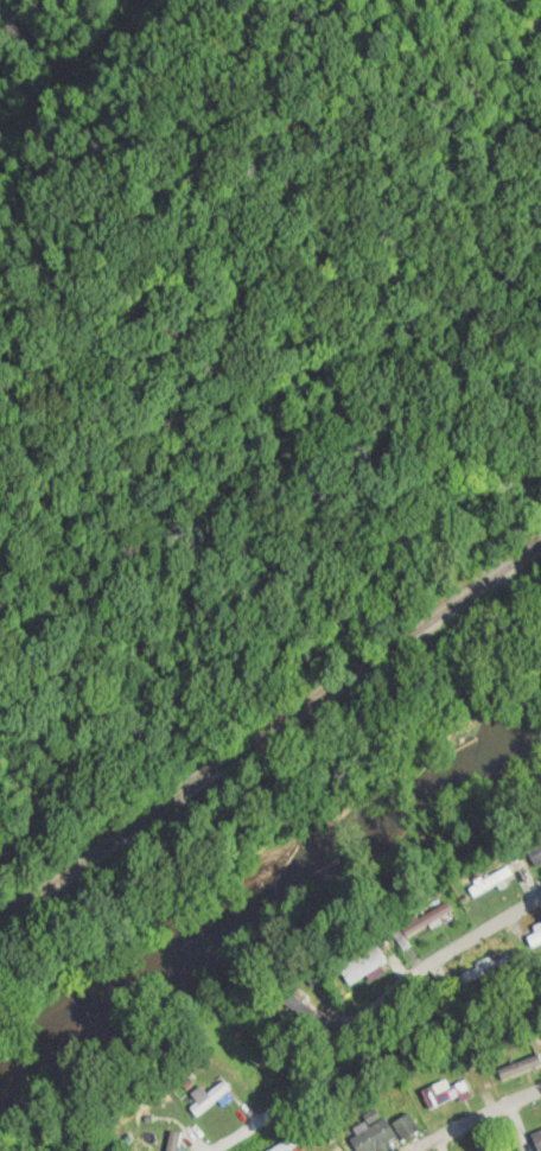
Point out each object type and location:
railway: (269, 737)
building: (535, 854)
river: (266, 886)
building: (425, 920)
building: (362, 966)
building: (484, 969)
road: (368, 1006)
building: (518, 1057)
building: (445, 1090)
building: (209, 1098)
road: (477, 1117)
building: (132, 1118)
building: (405, 1126)
building: (373, 1136)
building: (536, 1137)
building: (159, 1138)
building: (498, 1149)

